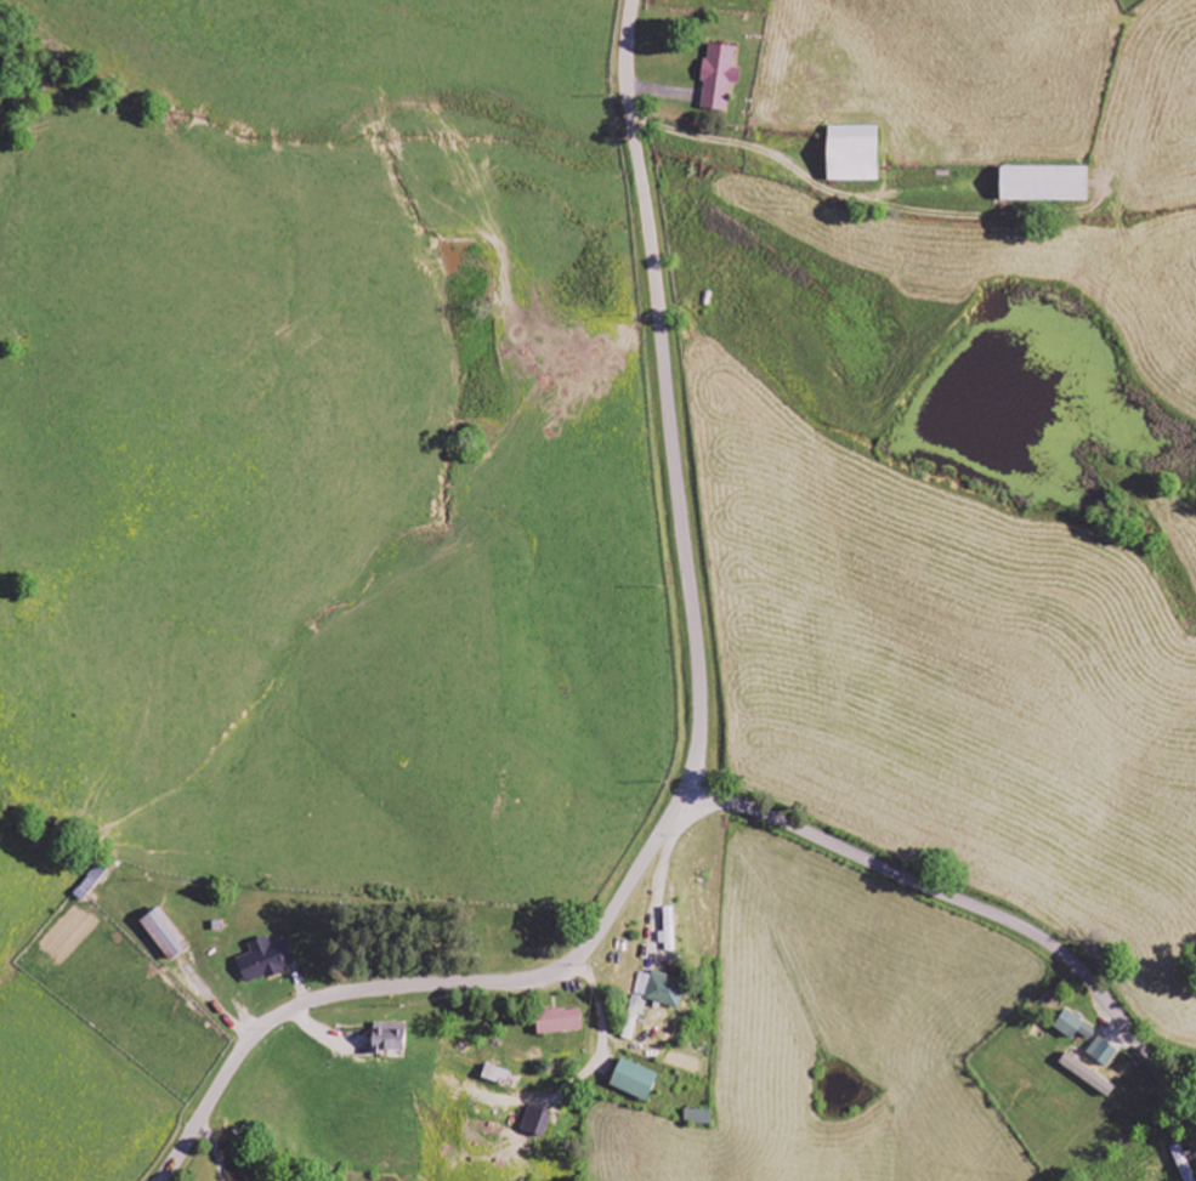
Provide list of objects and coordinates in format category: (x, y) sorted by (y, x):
building: (719, 78)
building: (854, 154)
building: (1045, 184)
road: (696, 749)
road: (977, 907)
building: (670, 920)
building: (163, 933)
building: (266, 959)
building: (654, 997)
building: (561, 1021)
building: (1075, 1026)
building: (390, 1037)
building: (1104, 1051)
building: (497, 1071)
building: (1088, 1074)
building: (636, 1079)
building: (698, 1117)
building: (537, 1120)

